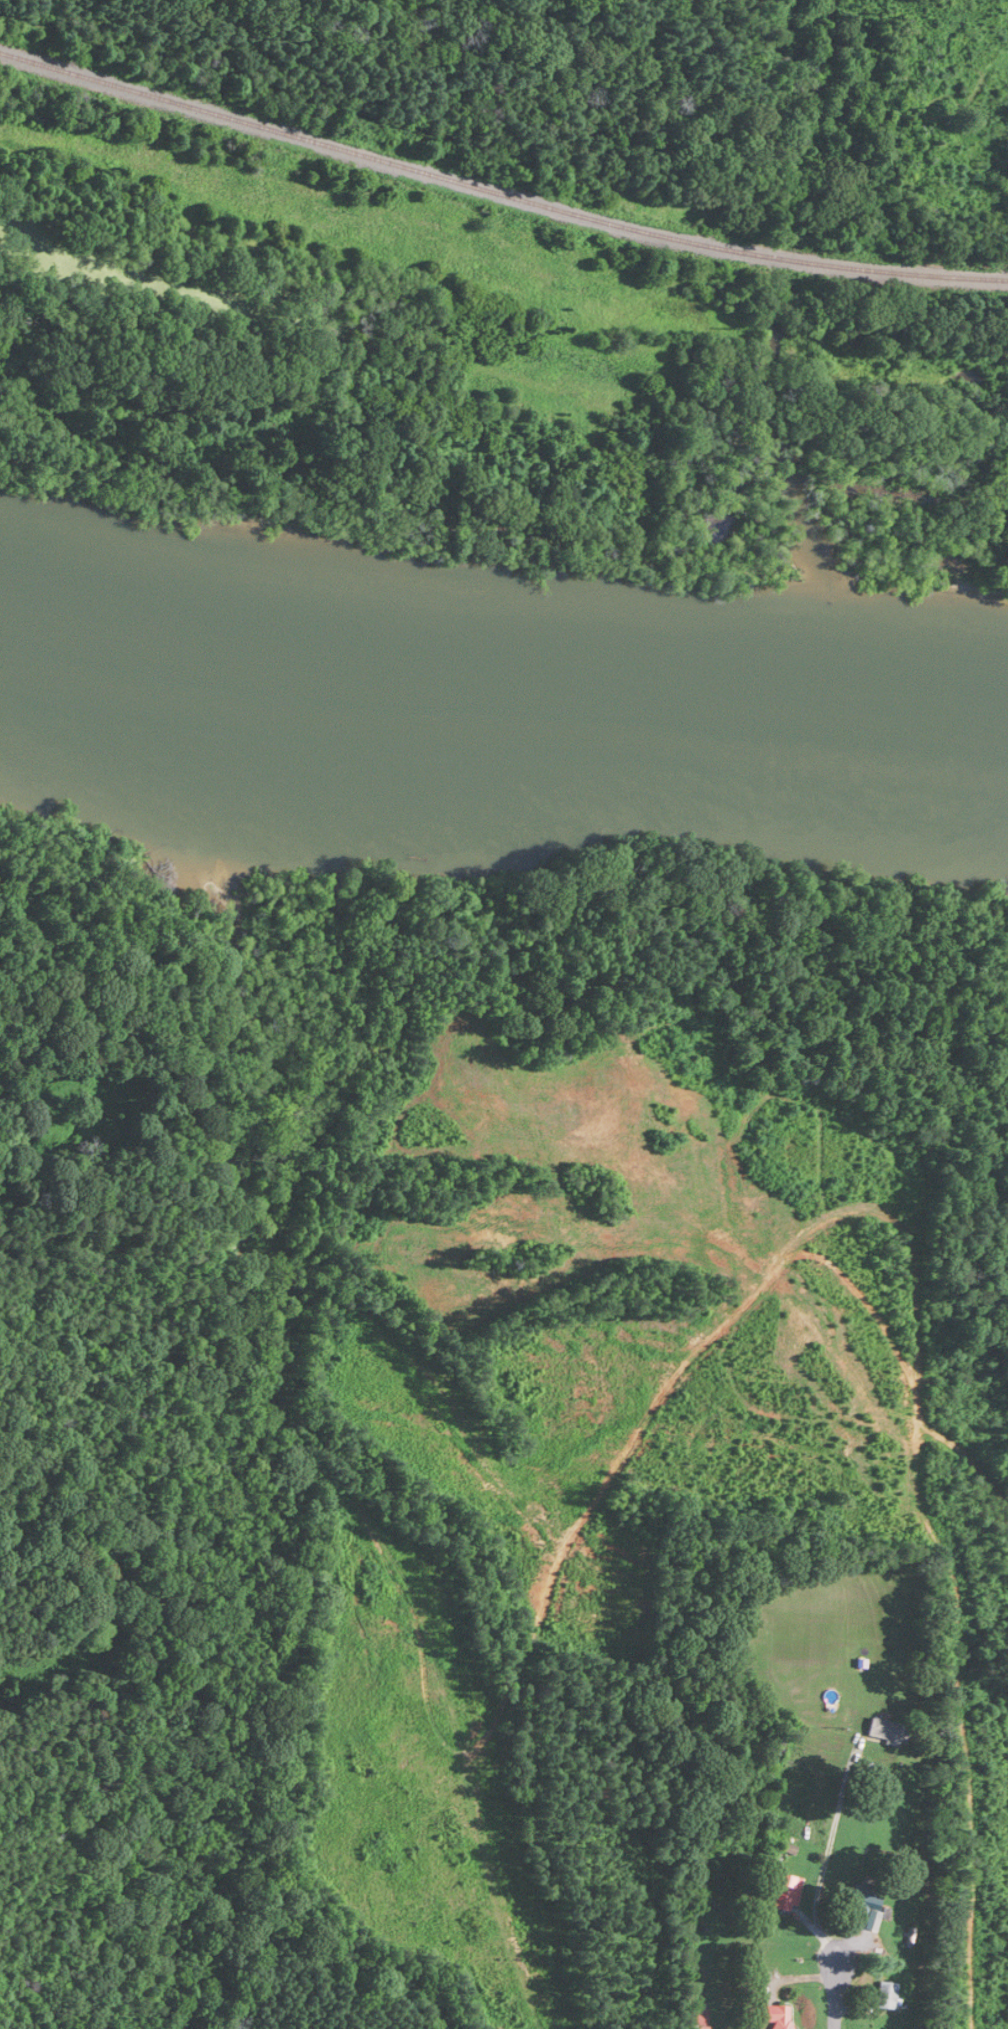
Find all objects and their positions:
railway: (498, 192)
river: (500, 646)
building: (890, 1732)
road: (829, 1845)
building: (786, 1892)
building: (863, 1901)
road: (832, 1986)
building: (887, 1995)
building: (778, 2016)

